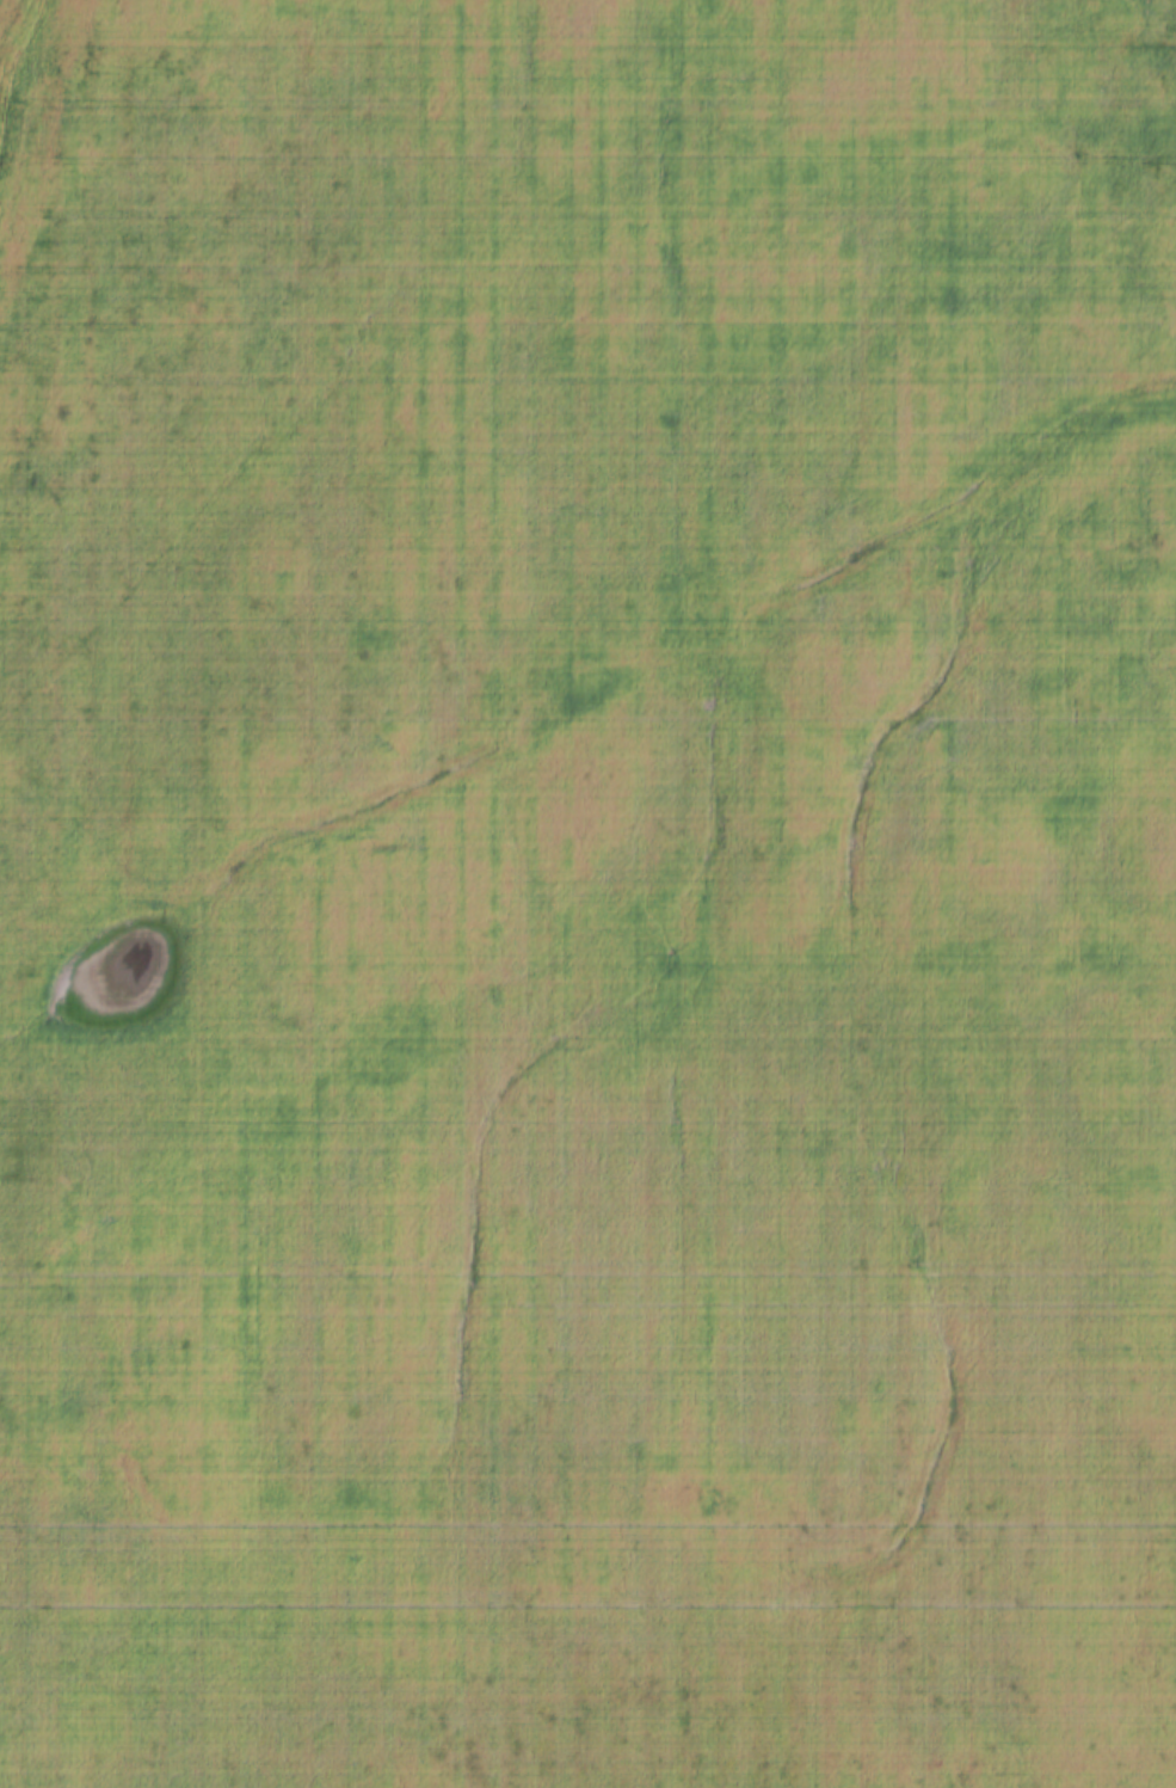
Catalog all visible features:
road: (579, 190)

